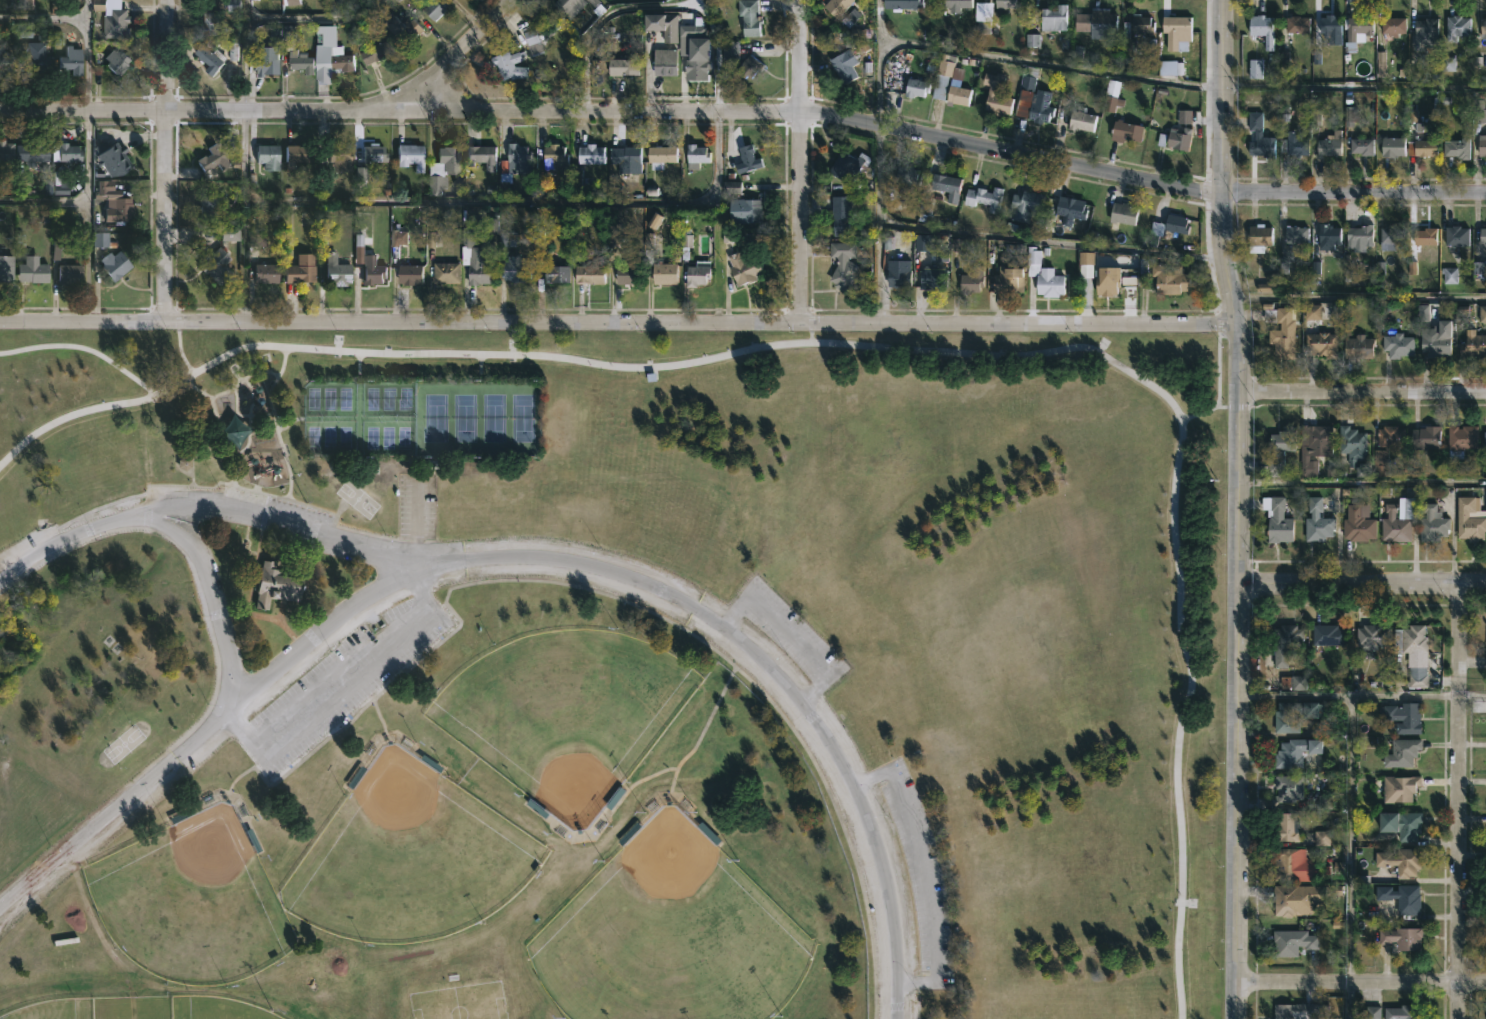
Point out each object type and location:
building: (901, 3)
building: (954, 5)
building: (1004, 5)
building: (581, 6)
building: (834, 6)
building: (432, 8)
road: (43, 14)
road: (313, 17)
building: (746, 17)
building: (1053, 17)
building: (1098, 23)
building: (1140, 23)
building: (211, 24)
building: (661, 24)
building: (1329, 24)
building: (1392, 25)
building: (1425, 25)
building: (1359, 26)
building: (1456, 26)
building: (120, 27)
building: (1482, 27)
building: (405, 28)
building: (1261, 28)
building: (1176, 31)
building: (1290, 33)
building: (379, 51)
road: (246, 54)
building: (694, 54)
building: (213, 58)
building: (344, 58)
building: (73, 60)
building: (36, 61)
building: (119, 61)
building: (663, 61)
road: (1050, 61)
building: (8, 63)
building: (266, 64)
building: (305, 64)
building: (843, 64)
building: (510, 66)
building: (621, 66)
building: (750, 67)
building: (1169, 67)
building: (1256, 70)
building: (942, 75)
road: (1354, 85)
building: (914, 87)
building: (956, 93)
building: (995, 95)
building: (1032, 102)
road: (282, 110)
building: (1184, 118)
building: (1079, 119)
building: (1125, 130)
building: (1259, 137)
building: (1178, 138)
road: (952, 141)
building: (1296, 144)
building: (1329, 144)
building: (1482, 144)
building: (1361, 145)
building: (1391, 146)
building: (1424, 147)
building: (1457, 148)
building: (7, 151)
building: (37, 152)
building: (68, 152)
building: (300, 153)
building: (377, 153)
building: (588, 153)
building: (407, 155)
building: (662, 155)
building: (694, 155)
building: (269, 156)
building: (340, 156)
building: (484, 156)
building: (114, 158)
building: (214, 158)
building: (521, 158)
building: (553, 158)
building: (626, 158)
building: (450, 159)
building: (745, 159)
road: (85, 161)
road: (166, 161)
road: (801, 161)
road: (877, 161)
road: (1223, 163)
building: (845, 165)
building: (907, 176)
building: (437, 184)
building: (945, 185)
building: (983, 197)
road: (42, 200)
road: (481, 200)
building: (1025, 204)
building: (118, 205)
building: (208, 207)
building: (1068, 210)
building: (744, 211)
building: (839, 215)
building: (1124, 215)
building: (1176, 223)
building: (1294, 234)
building: (231, 235)
building: (1327, 236)
building: (1358, 236)
building: (1391, 236)
building: (1424, 236)
building: (1456, 236)
building: (1482, 236)
building: (1258, 238)
building: (102, 241)
road: (1051, 241)
building: (623, 252)
building: (476, 261)
building: (1085, 263)
building: (217, 264)
building: (116, 265)
building: (844, 267)
building: (5, 268)
building: (742, 268)
building: (302, 269)
building: (518, 269)
building: (34, 270)
building: (333, 270)
building: (375, 270)
building: (445, 272)
building: (669, 272)
building: (65, 273)
building: (268, 273)
building: (408, 274)
building: (555, 274)
building: (588, 274)
building: (700, 275)
building: (898, 275)
building: (1043, 275)
building: (1450, 277)
building: (933, 278)
building: (1006, 279)
building: (1169, 279)
building: (1106, 280)
building: (970, 281)
road: (1360, 297)
road: (83, 322)
road: (703, 323)
building: (1281, 328)
building: (1320, 344)
building: (1434, 344)
building: (1472, 344)
building: (1398, 345)
building: (1357, 346)
road: (85, 347)
road: (179, 349)
road: (887, 350)
road: (1216, 364)
road: (1362, 391)
park: (328, 398)
park: (345, 398)
park: (404, 398)
park: (310, 399)
park: (370, 399)
park: (387, 399)
road: (1207, 408)
park: (430, 417)
park: (460, 418)
park: (491, 418)
park: (522, 418)
park: (310, 436)
park: (329, 436)
park: (346, 436)
park: (404, 436)
park: (369, 437)
park: (386, 437)
building: (1425, 437)
building: (1461, 440)
building: (1484, 440)
building: (1351, 444)
building: (1313, 445)
building: (1386, 447)
building: (1279, 450)
road: (1238, 453)
building: (181, 464)
road: (1362, 485)
park: (358, 499)
parking lot: (416, 500)
parking lot: (276, 505)
road: (415, 518)
building: (1469, 519)
building: (1276, 520)
building: (1398, 520)
building: (1317, 522)
road: (273, 523)
building: (1357, 524)
building: (1431, 524)
road: (58, 545)
road: (528, 556)
building: (275, 583)
road: (1361, 583)
road: (213, 593)
road: (617, 598)
building: (1328, 635)
building: (1371, 637)
building: (1411, 640)
building: (1284, 644)
park: (612, 674)
park: (608, 676)
building: (1417, 677)
parking lot: (339, 681)
building: (1299, 684)
road: (1473, 695)
road: (1294, 696)
park: (564, 713)
building: (1294, 715)
building: (1402, 718)
building: (1295, 753)
building: (1400, 753)
building: (1399, 788)
building: (1287, 789)
road: (1235, 801)
road: (1459, 801)
road: (1351, 804)
building: (1400, 825)
building: (1287, 827)
building: (712, 836)
park: (408, 856)
building: (1401, 861)
building: (1292, 866)
road: (923, 875)
building: (1400, 898)
park: (190, 901)
building: (1285, 901)
park: (669, 937)
building: (1402, 939)
building: (1291, 943)
road: (1360, 983)
park: (459, 1002)
park: (213, 1009)
park: (54, 1010)
building: (1402, 1011)
building: (1299, 1012)

